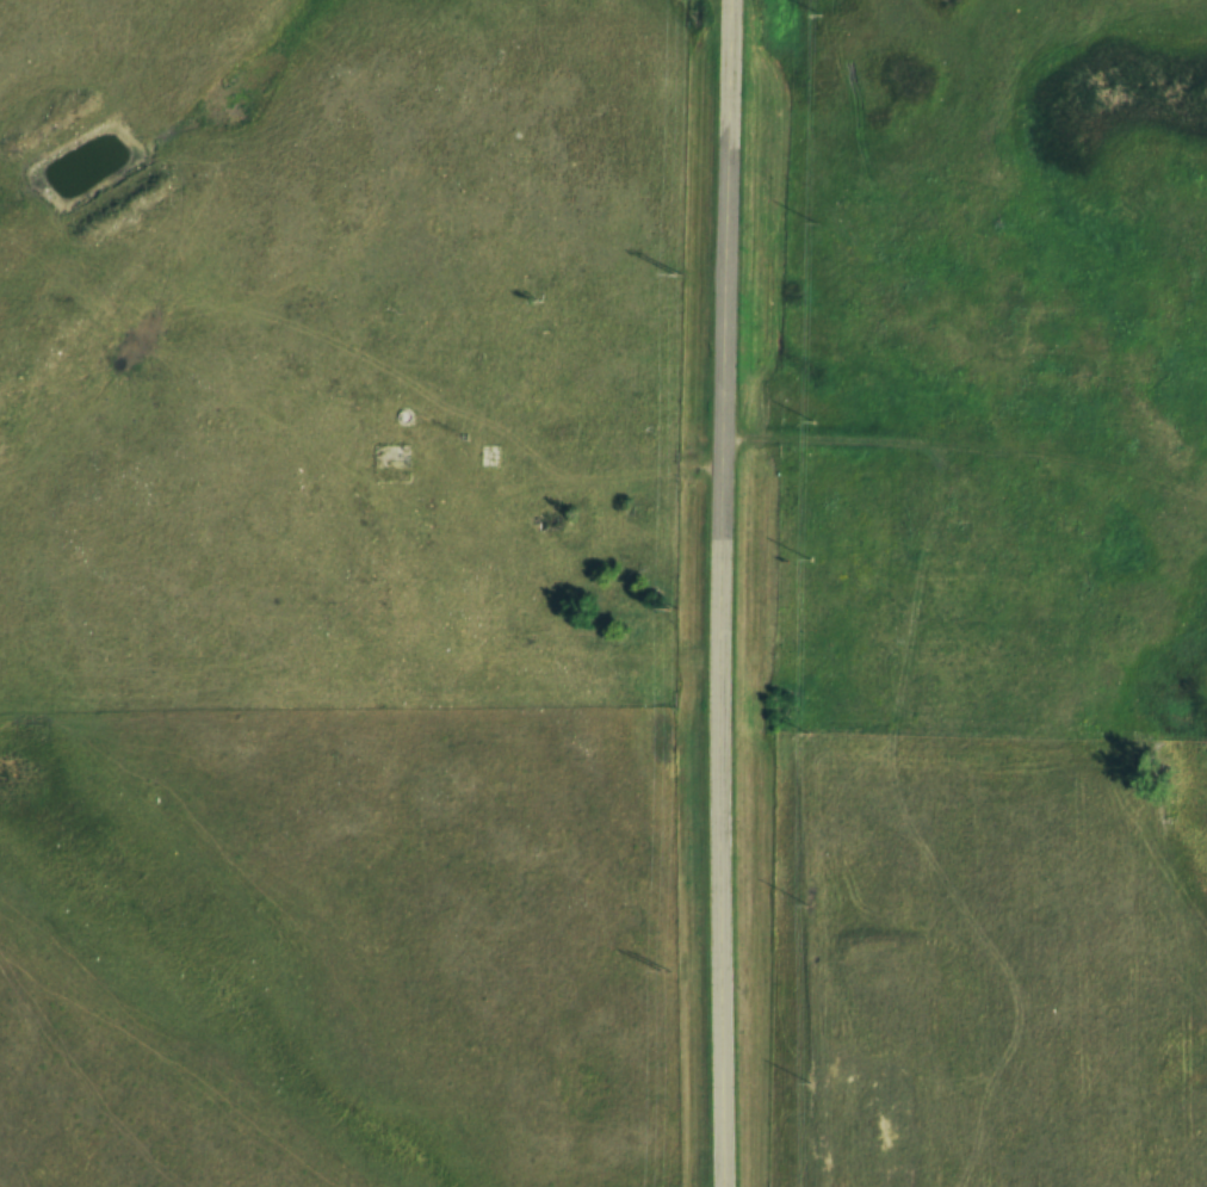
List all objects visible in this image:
power tower: (675, 273)
road: (719, 593)
power tower: (664, 972)

